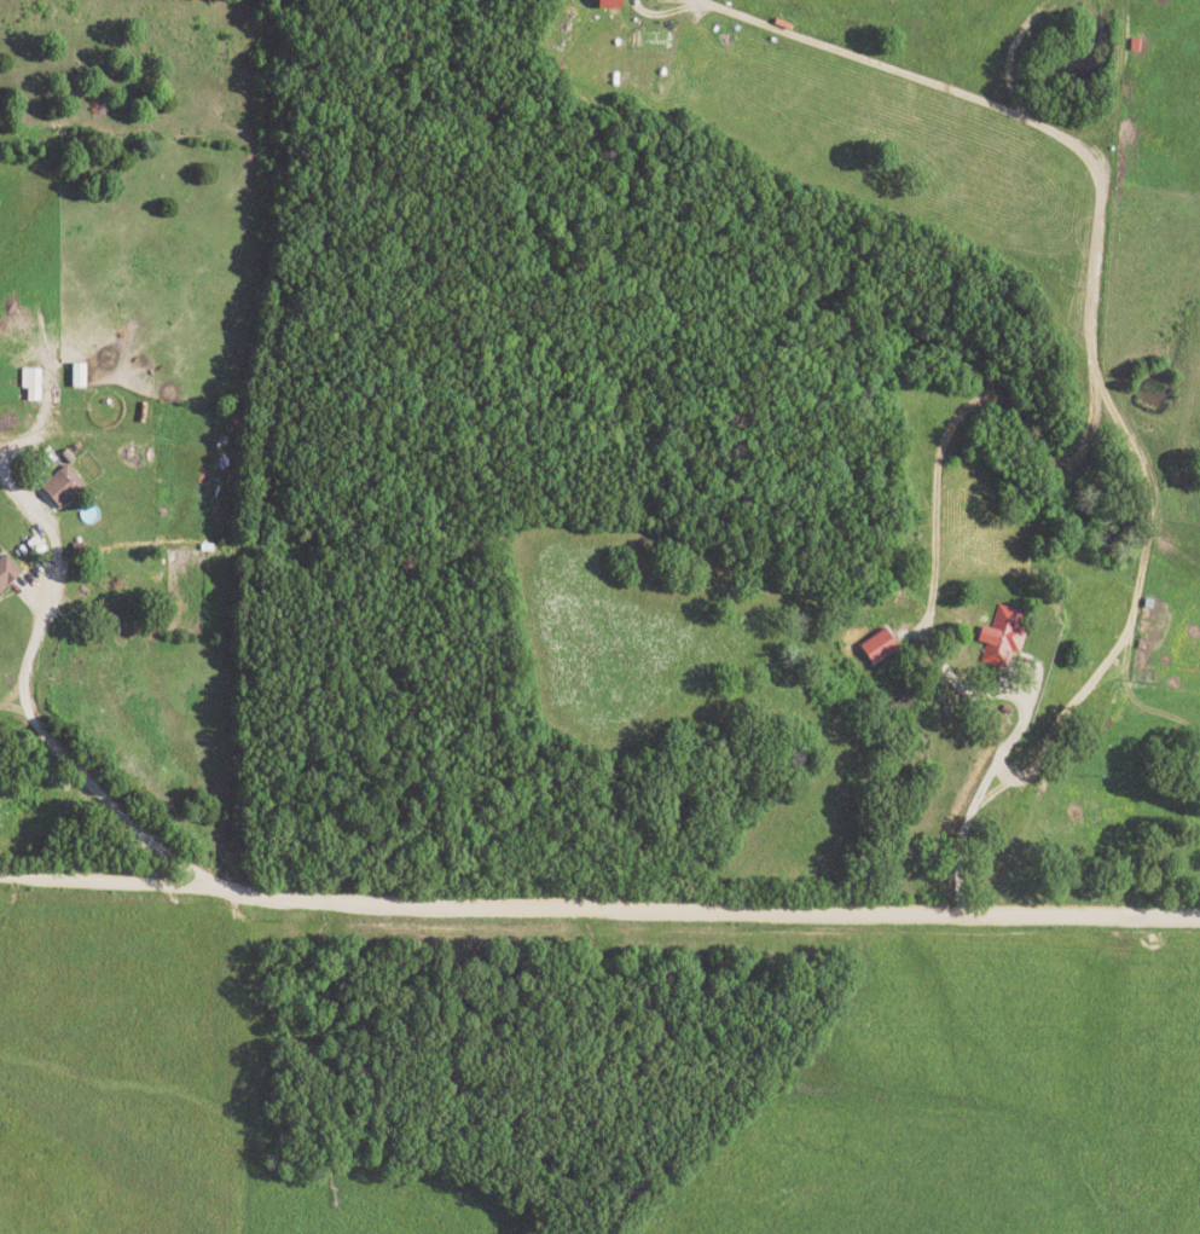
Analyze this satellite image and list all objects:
building: (607, 4)
building: (77, 376)
building: (30, 383)
road: (6, 448)
building: (60, 487)
building: (7, 572)
building: (1001, 638)
building: (877, 647)
road: (8, 699)
road: (1123, 703)
road: (19, 709)
road: (597, 910)

